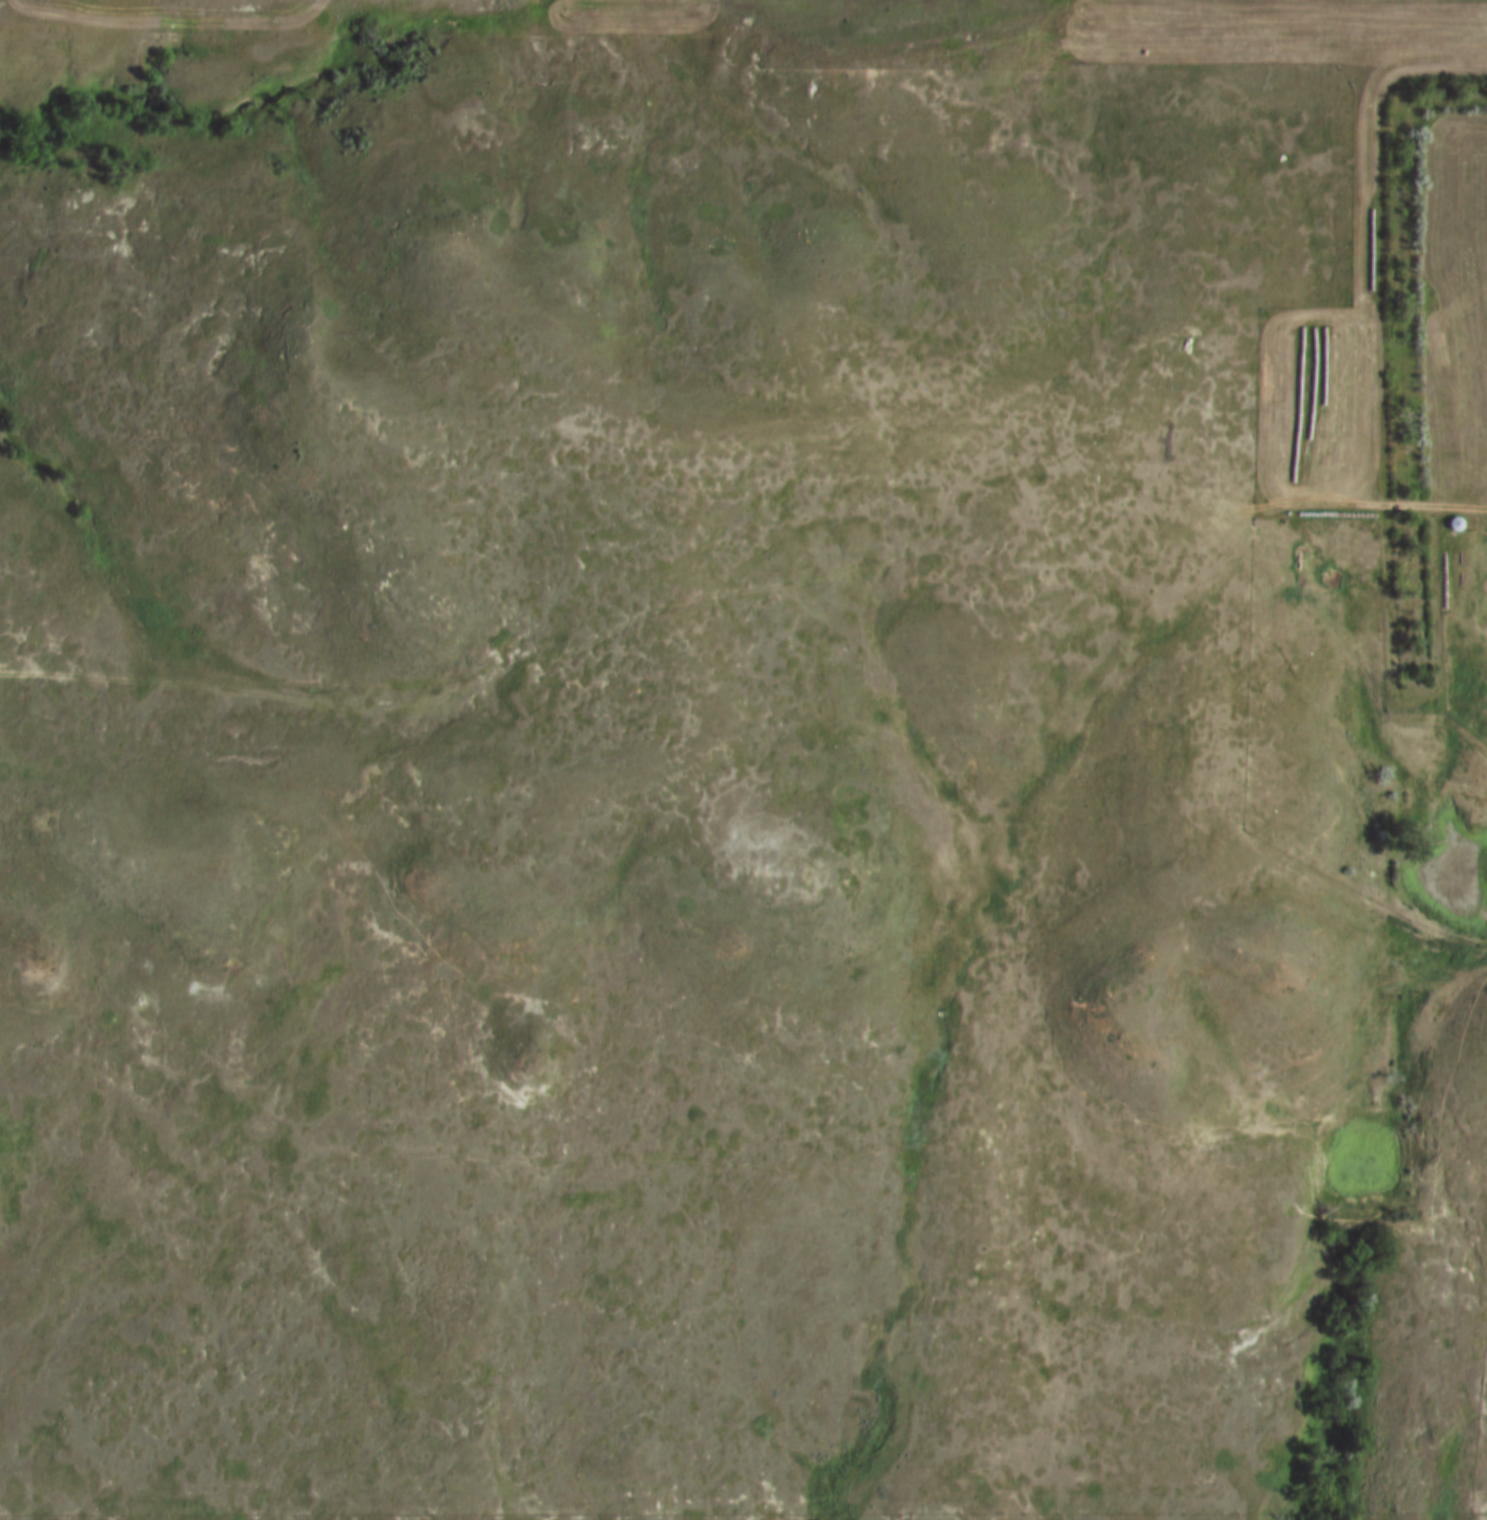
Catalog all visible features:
road: (1368, 508)
building: (1450, 525)

